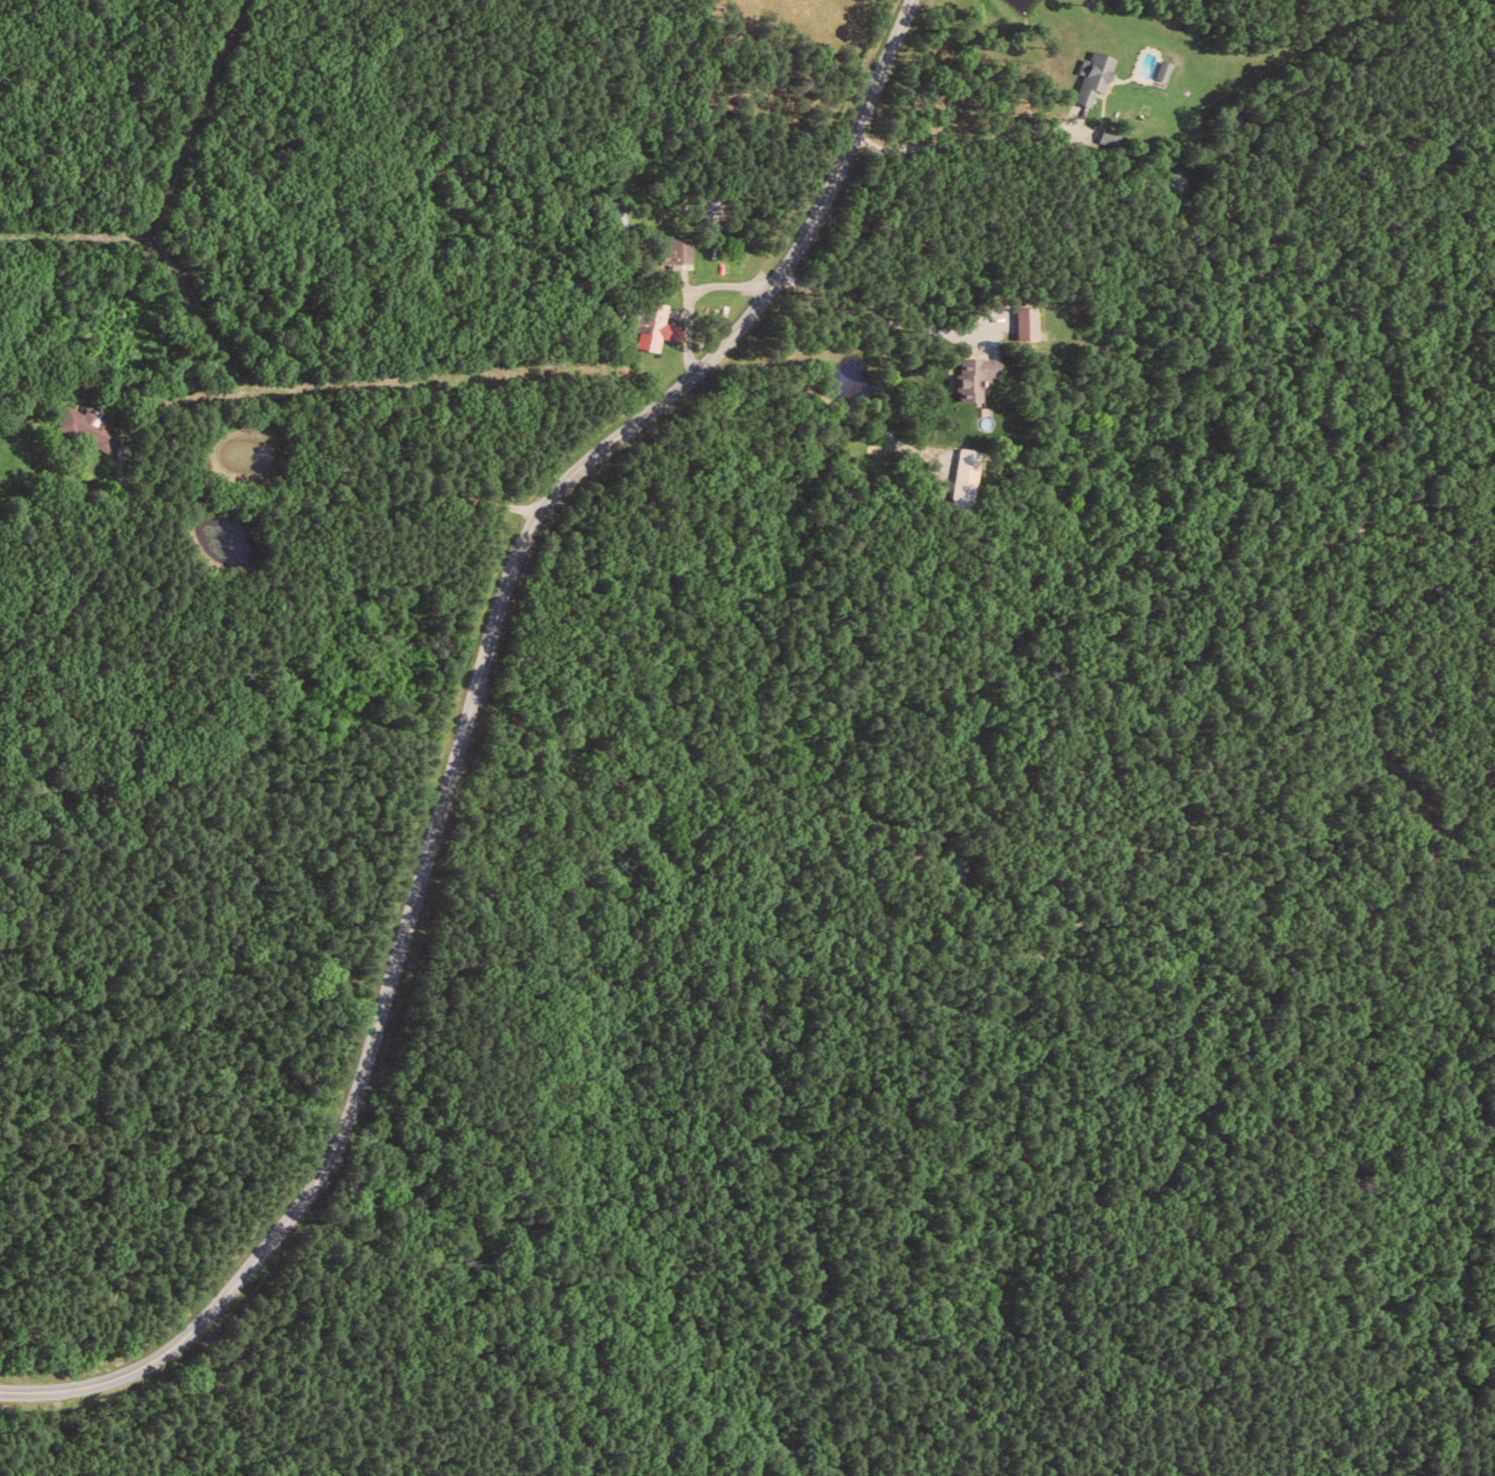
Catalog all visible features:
road: (884, 69)
building: (1166, 70)
building: (1096, 77)
road: (972, 139)
building: (715, 211)
road: (811, 214)
building: (679, 251)
road: (706, 286)
road: (881, 321)
building: (1028, 322)
building: (658, 326)
road: (739, 327)
building: (978, 376)
road: (830, 402)
building: (92, 426)
road: (616, 436)
building: (968, 479)
road: (262, 506)
road: (372, 1041)

